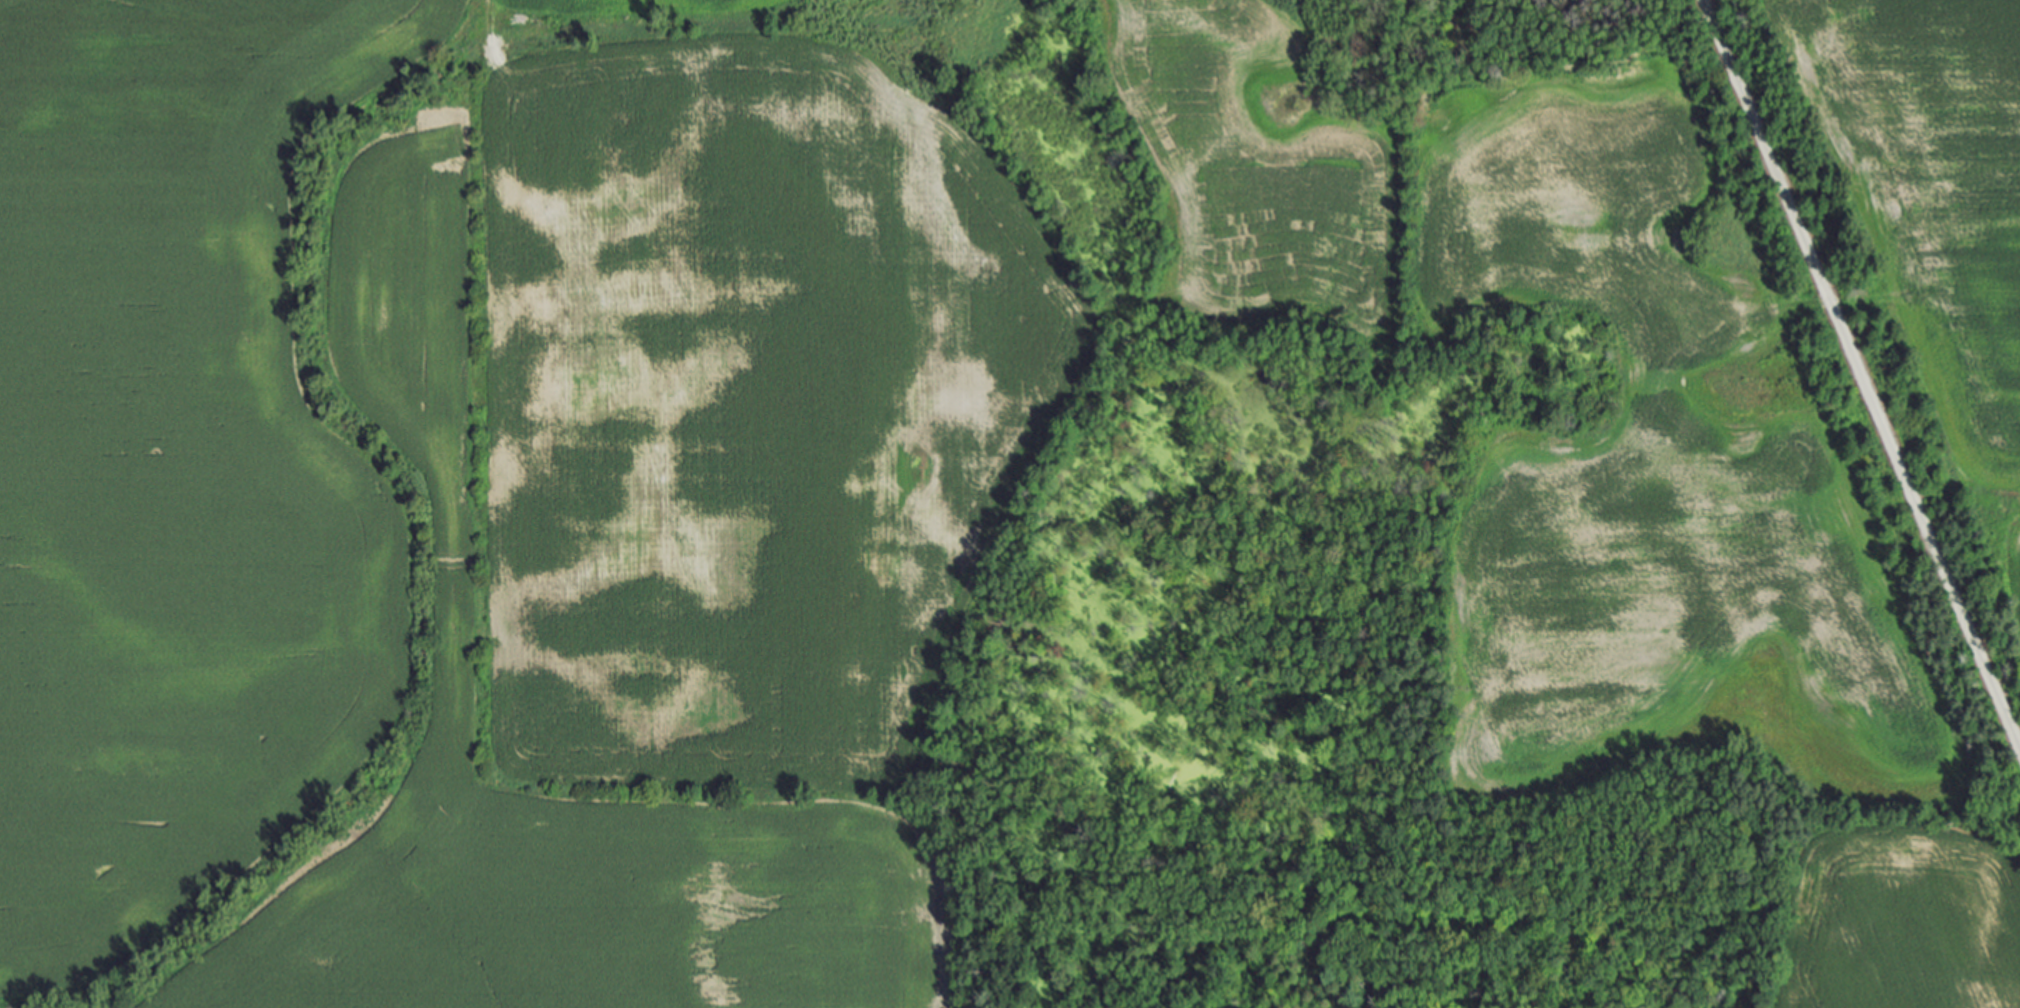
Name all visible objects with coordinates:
road: (1859, 384)

